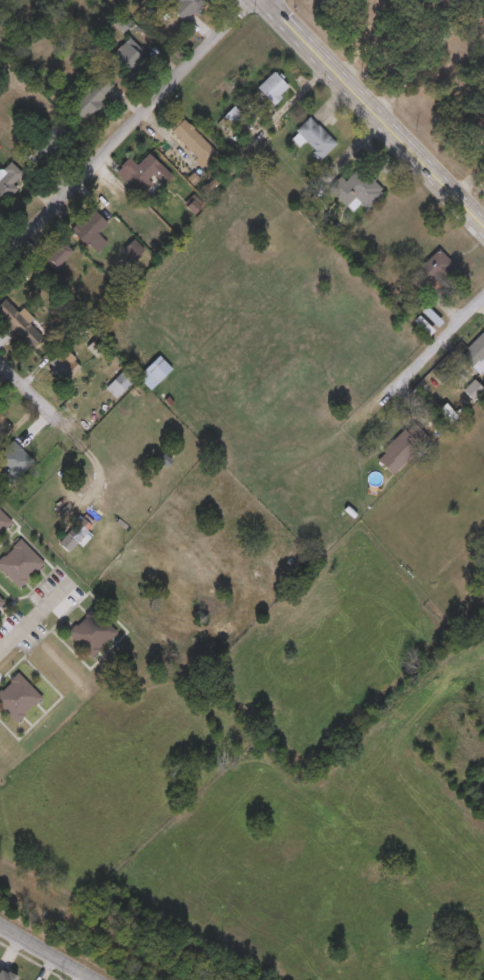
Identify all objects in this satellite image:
building: (186, 8)
building: (130, 57)
building: (273, 89)
building: (93, 98)
road: (373, 120)
building: (480, 127)
road: (124, 128)
building: (315, 138)
building: (54, 139)
building: (193, 143)
building: (146, 171)
building: (8, 182)
road: (465, 183)
building: (357, 190)
building: (91, 231)
building: (133, 250)
building: (58, 256)
building: (432, 270)
building: (19, 324)
building: (474, 352)
road: (425, 355)
building: (64, 366)
building: (154, 374)
building: (120, 385)
road: (33, 391)
building: (473, 391)
building: (3, 426)
building: (401, 450)
road: (99, 461)
building: (4, 522)
building: (75, 536)
building: (19, 564)
building: (481, 569)
building: (1, 603)
road: (36, 619)
building: (92, 633)
building: (18, 699)
road: (49, 951)
building: (6, 976)
road: (92, 978)

